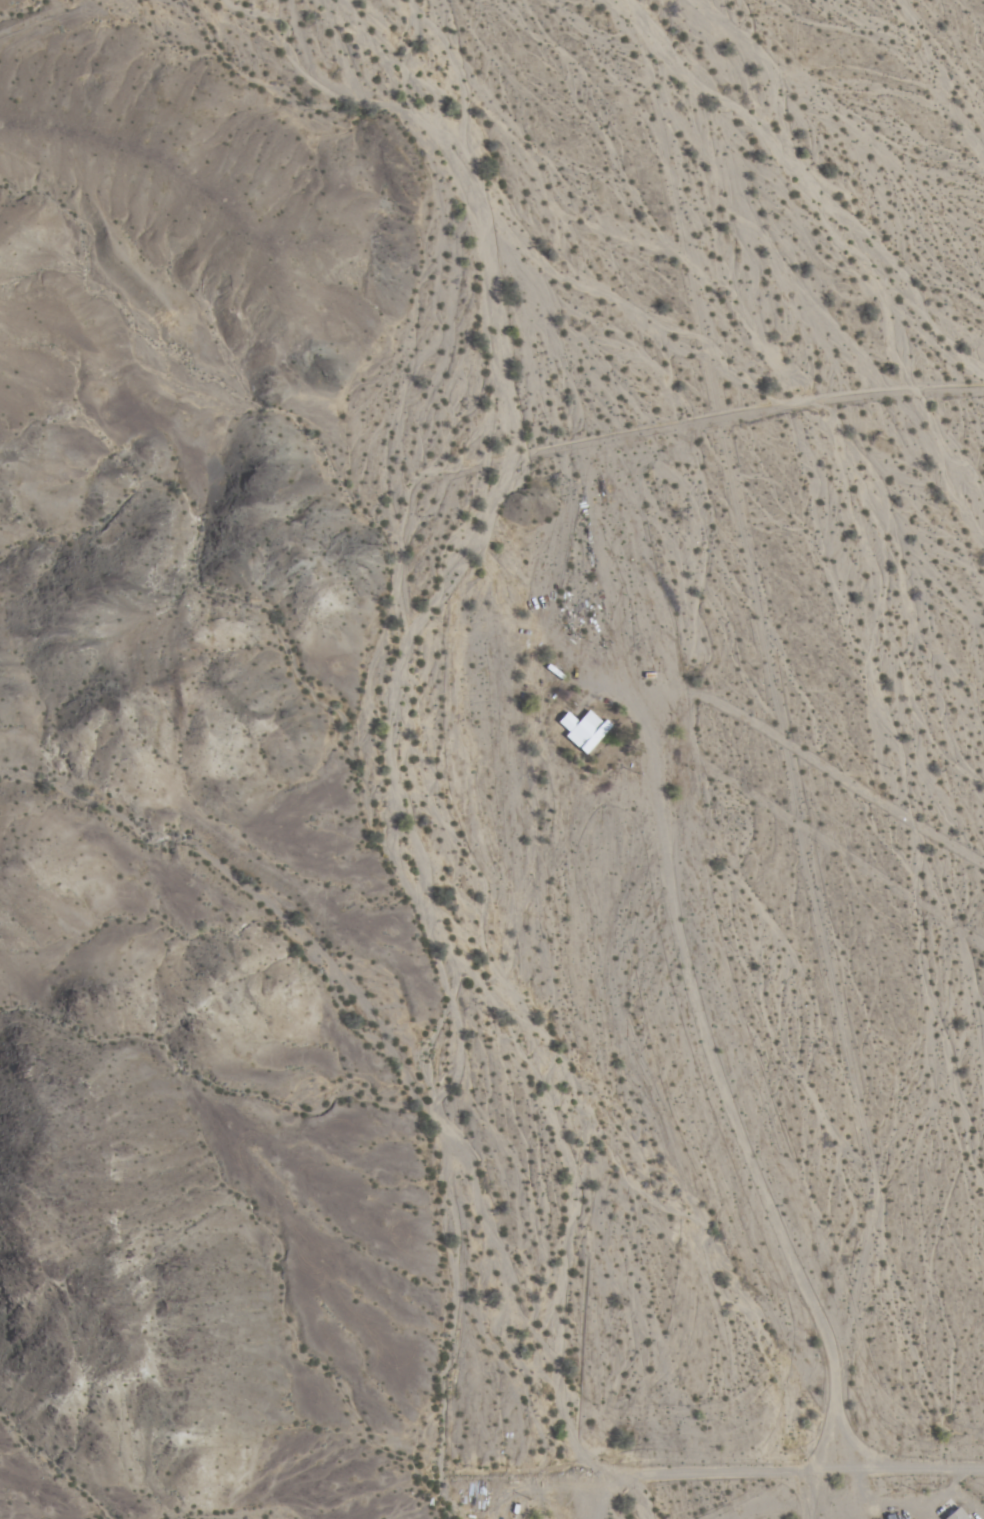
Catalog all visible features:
building: (585, 729)
building: (958, 1514)

